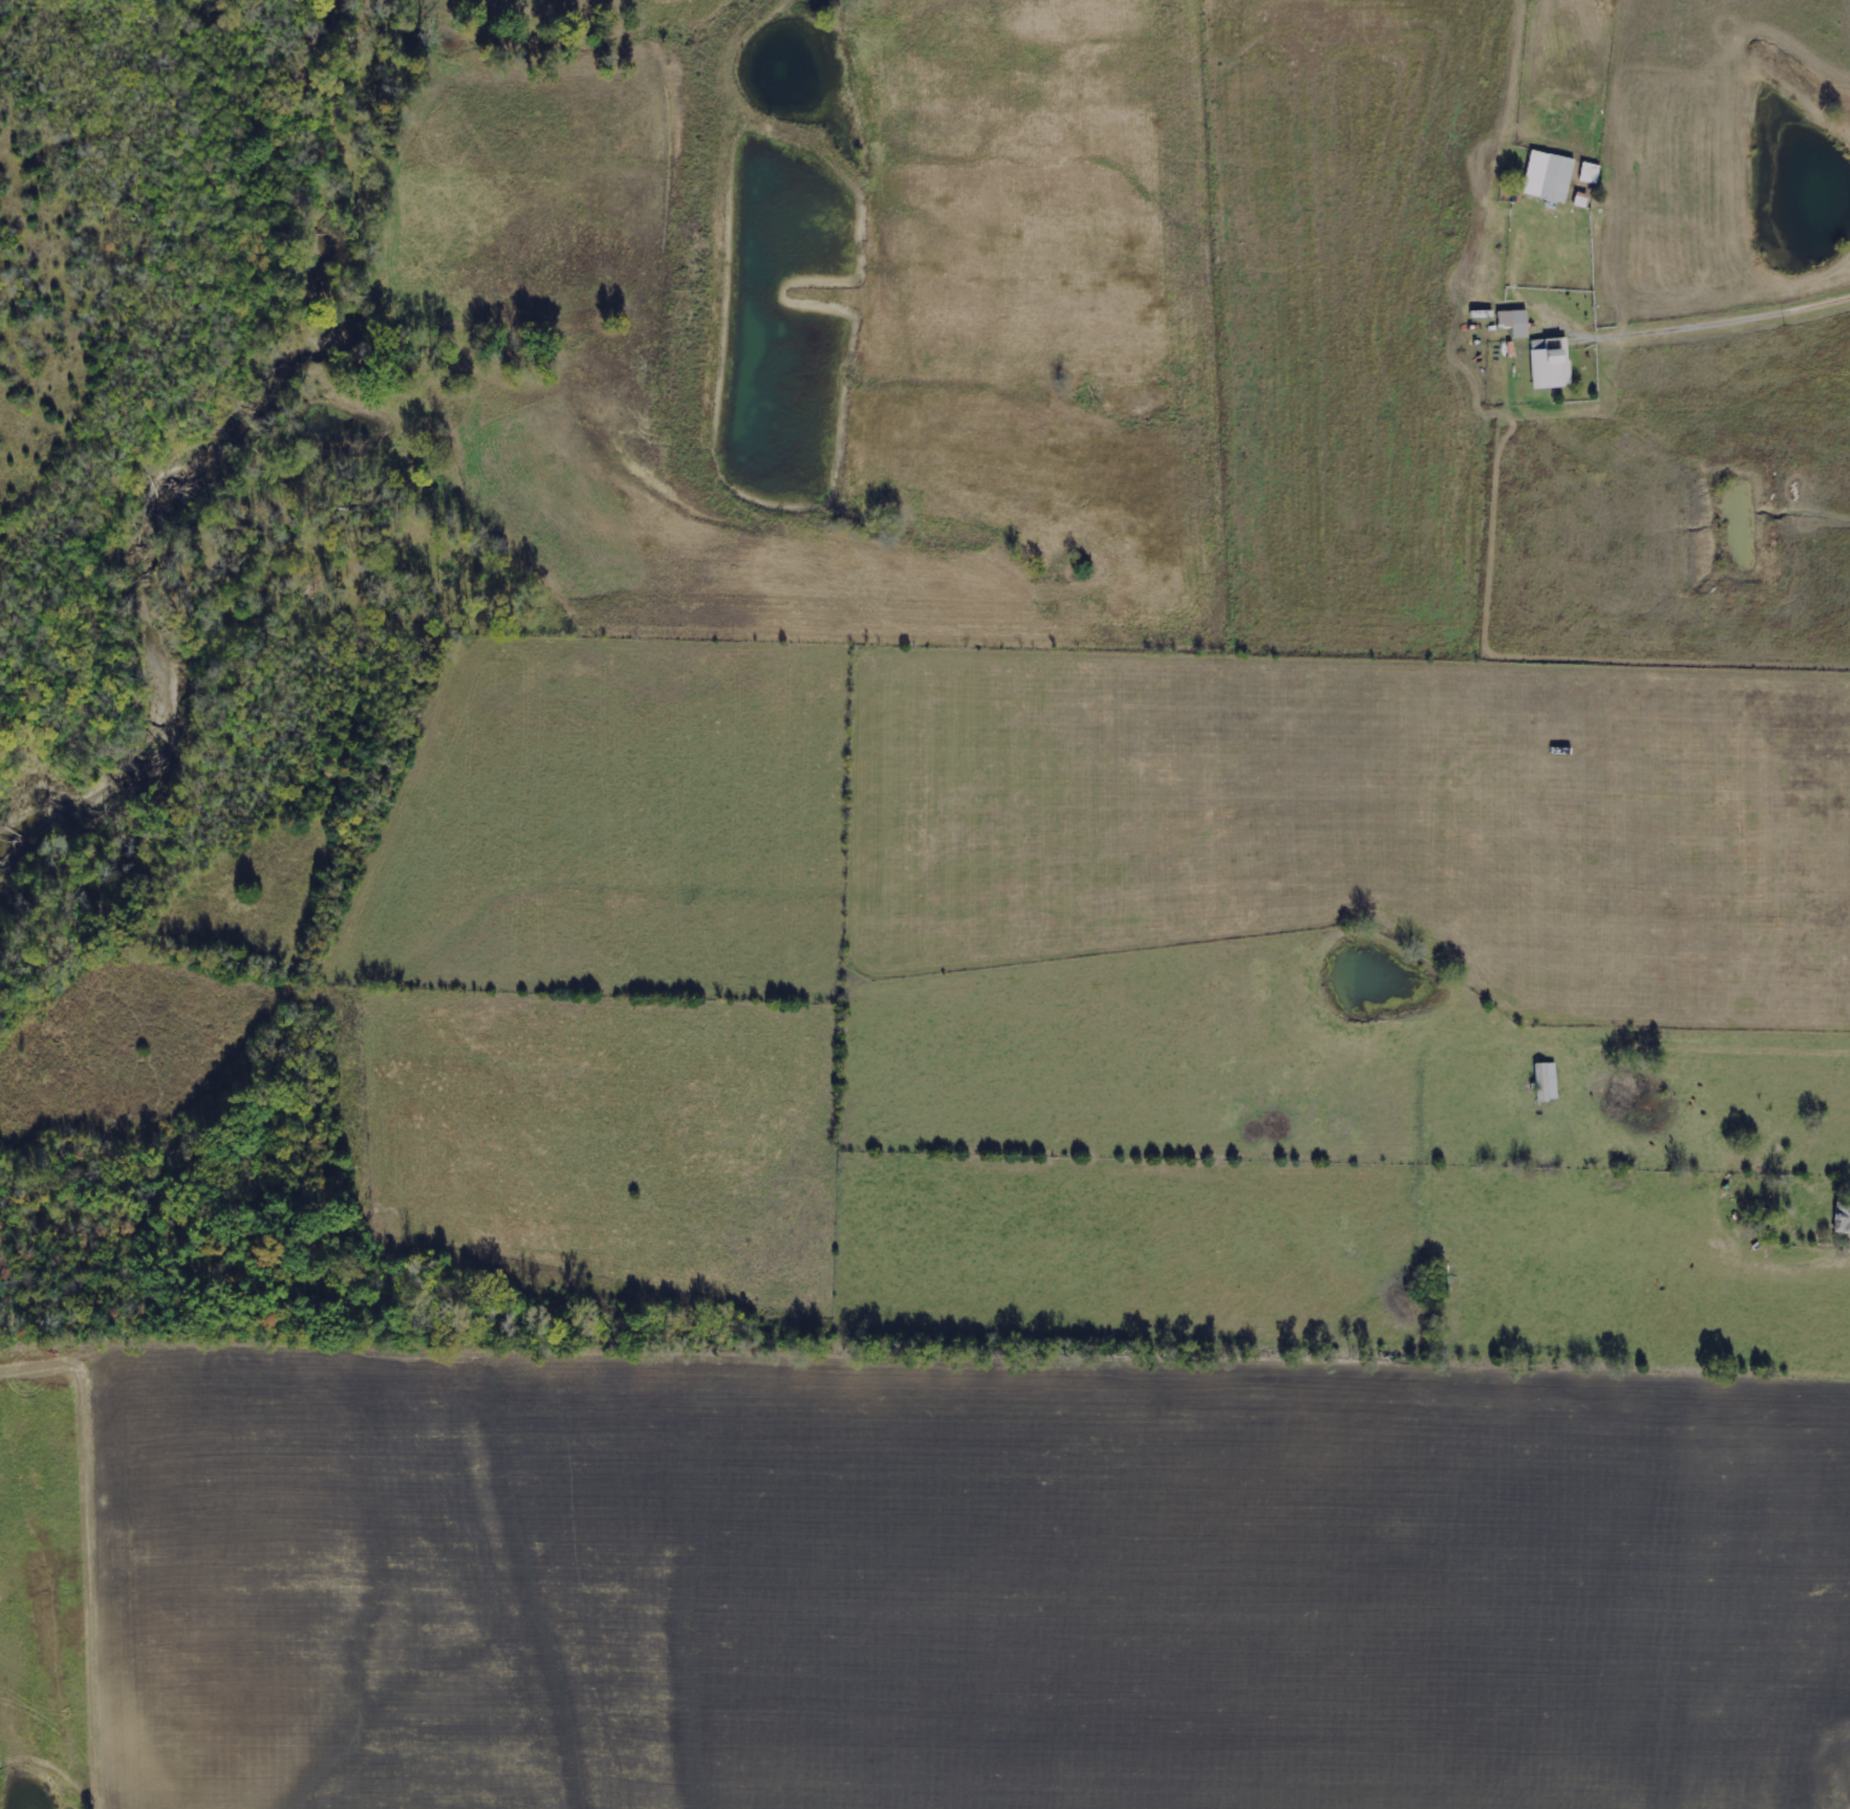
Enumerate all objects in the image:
building: (1547, 177)
building: (1515, 321)
building: (1550, 362)
building: (1545, 1080)

